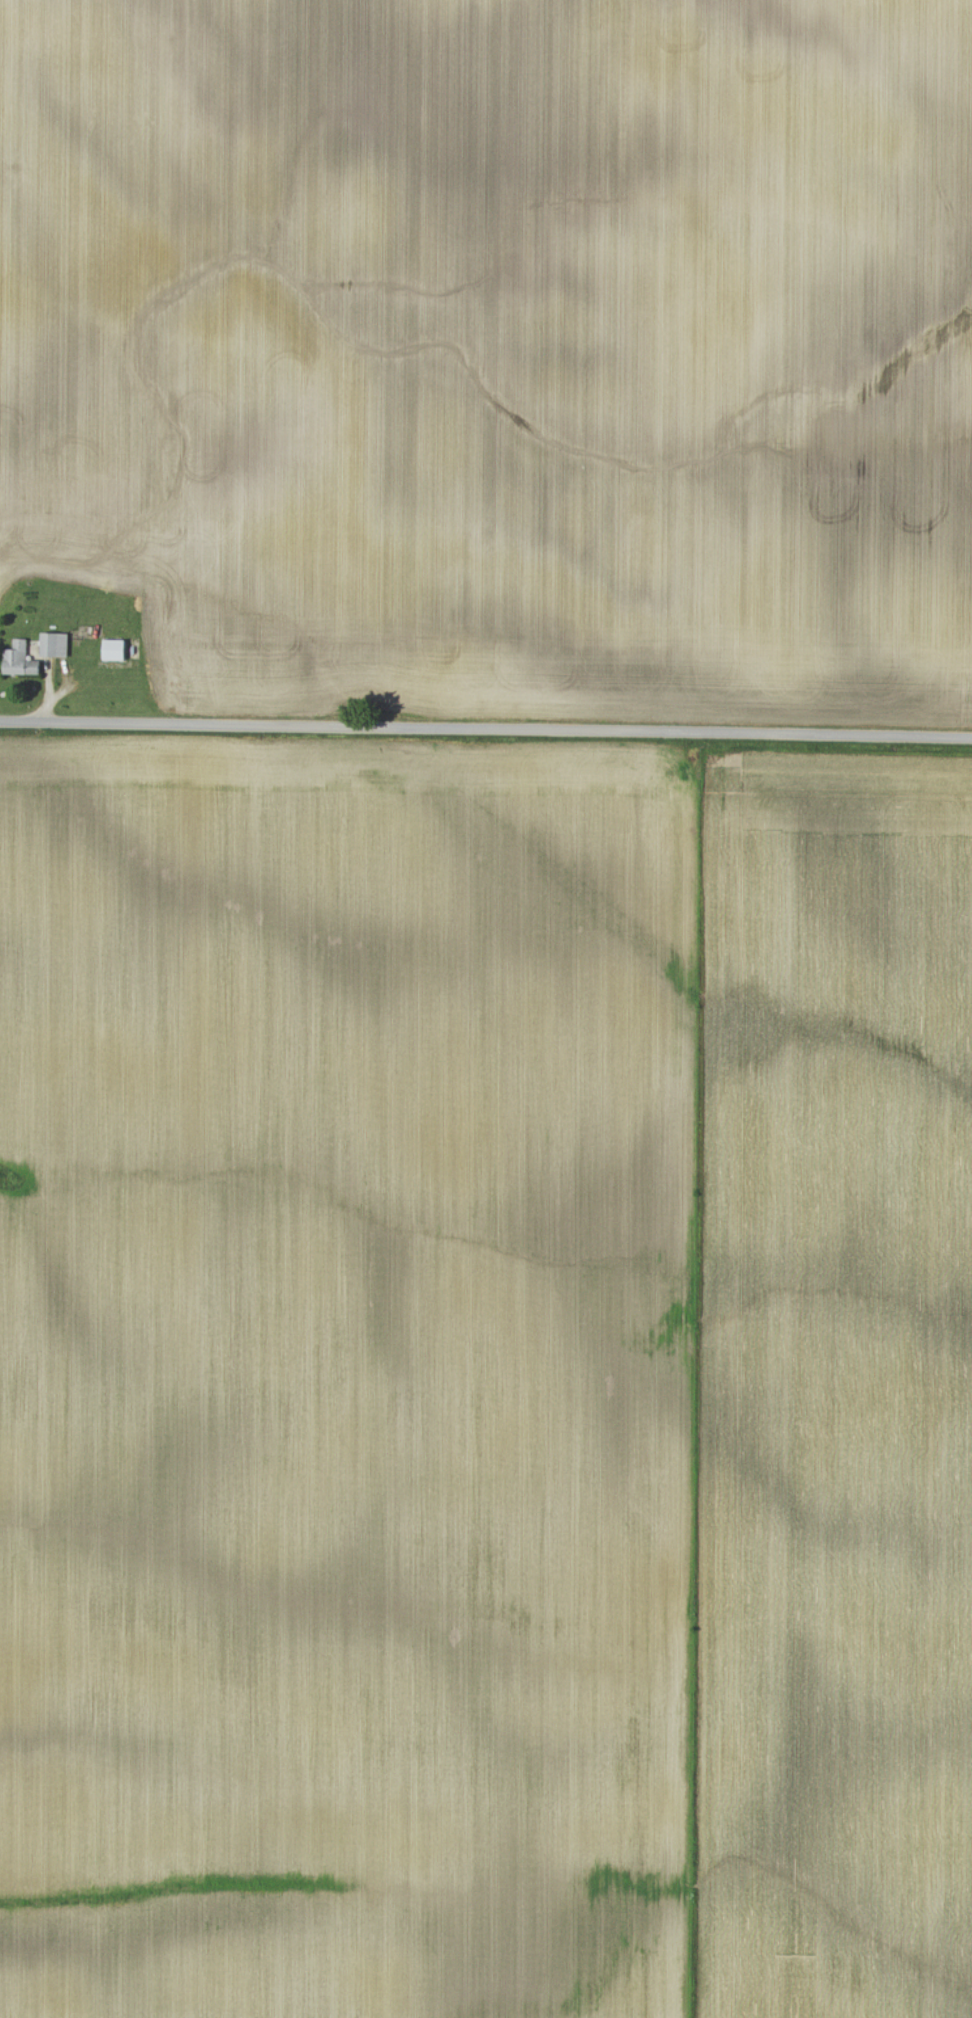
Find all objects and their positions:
building: (113, 649)
road: (486, 729)

